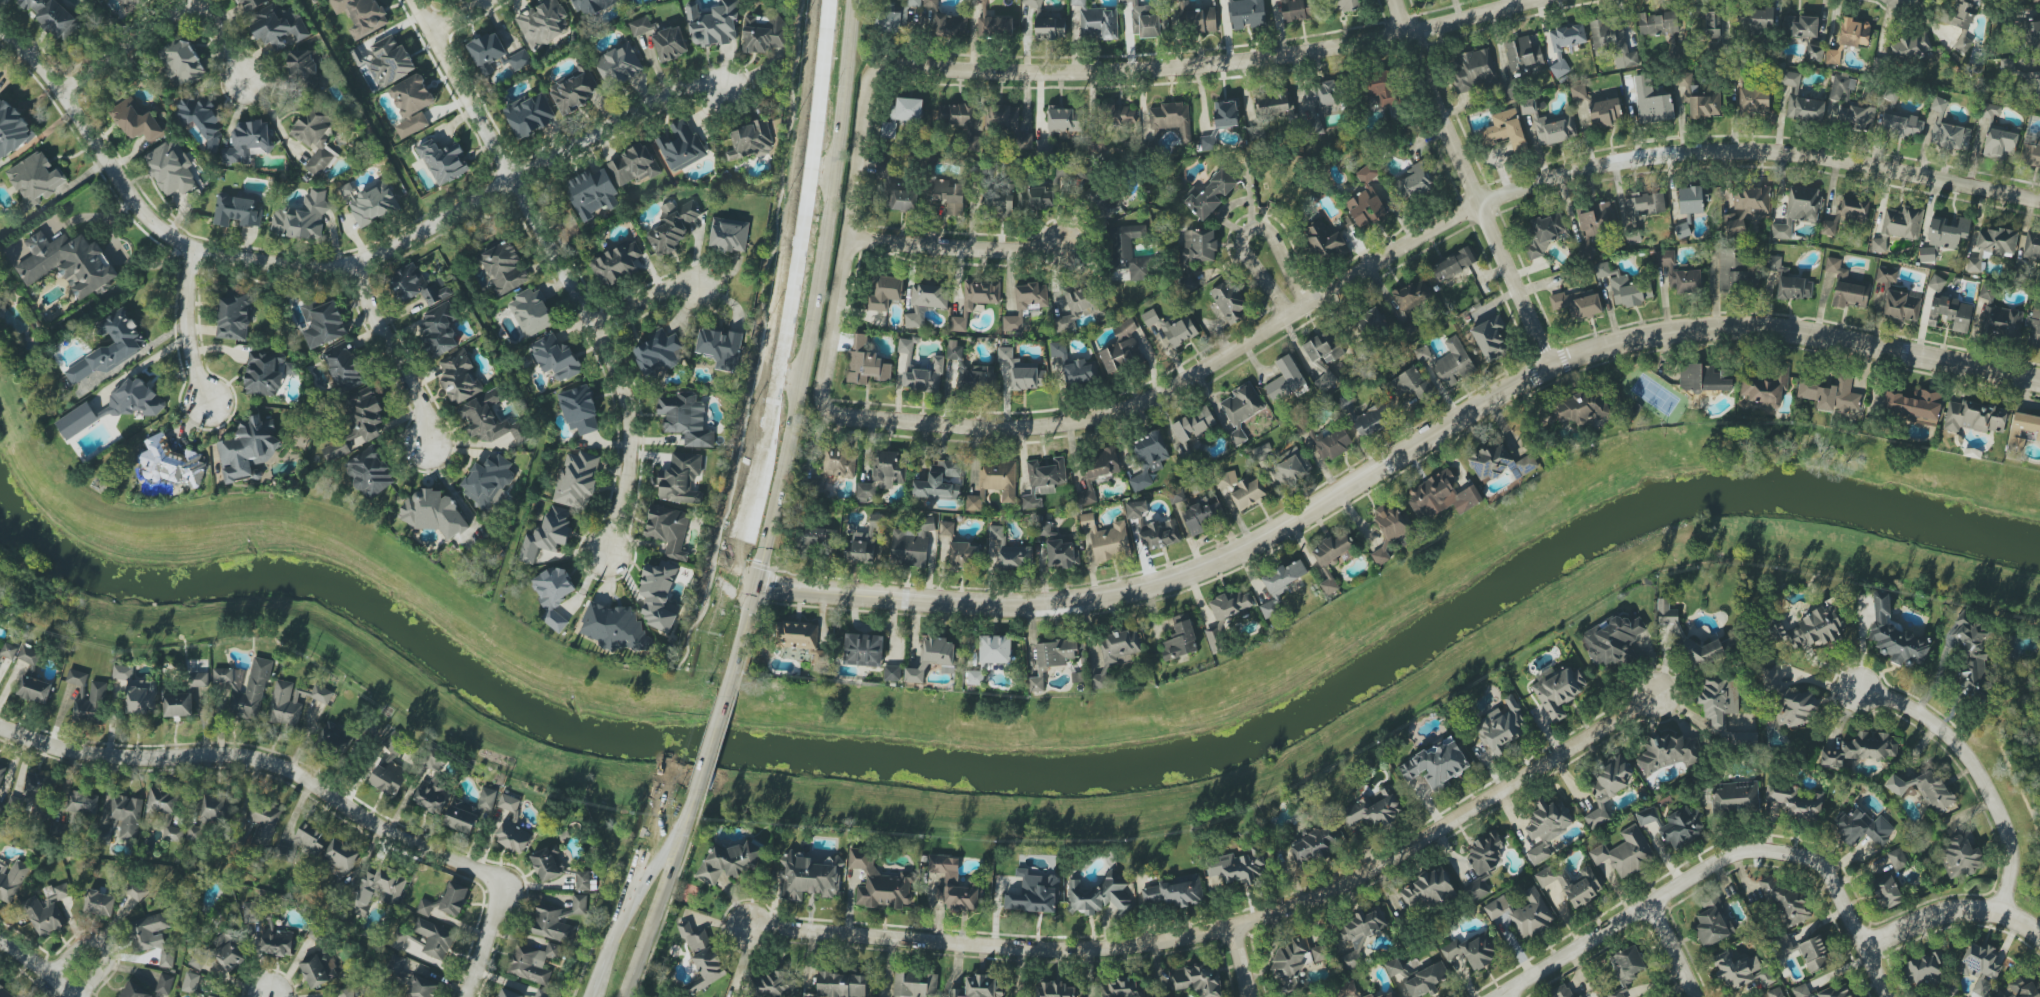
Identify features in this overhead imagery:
building: (2036, 1)
building: (1177, 2)
building: (133, 3)
building: (913, 3)
building: (1032, 3)
building: (250, 4)
building: (1343, 5)
building: (592, 6)
building: (1295, 11)
building: (1246, 13)
road: (455, 14)
building: (362, 15)
building: (52, 16)
building: (1761, 18)
building: (1199, 20)
building: (890, 21)
building: (943, 21)
building: (1144, 21)
building: (541, 23)
building: (713, 23)
building: (1657, 23)
building: (1098, 24)
building: (640, 25)
building: (278, 26)
building: (995, 26)
building: (1712, 26)
building: (1050, 27)
building: (1800, 27)
building: (763, 33)
building: (1854, 33)
building: (2033, 35)
road: (220, 40)
building: (1610, 40)
road: (126, 43)
building: (670, 44)
building: (1565, 44)
building: (1963, 44)
building: (1910, 47)
building: (487, 52)
building: (1814, 53)
building: (1523, 55)
building: (1833, 57)
building: (518, 60)
building: (390, 61)
building: (182, 63)
building: (618, 64)
building: (302, 66)
road: (1124, 69)
building: (1472, 71)
building: (2038, 86)
building: (1382, 87)
building: (1841, 88)
building: (574, 90)
building: (1578, 92)
building: (1699, 98)
building: (1652, 100)
building: (1754, 100)
building: (1801, 101)
building: (411, 104)
building: (1939, 104)
building: (1272, 105)
building: (1318, 105)
building: (1990, 111)
building: (1606, 113)
building: (1125, 114)
building: (1226, 114)
building: (530, 115)
building: (902, 115)
building: (956, 115)
building: (1002, 117)
building: (1856, 117)
building: (202, 119)
building: (1064, 120)
building: (1169, 121)
building: (137, 123)
building: (1549, 124)
building: (1901, 125)
building: (12, 130)
building: (1505, 130)
building: (1950, 135)
building: (316, 139)
building: (247, 141)
building: (751, 141)
building: (1024, 141)
building: (1209, 142)
building: (1999, 144)
building: (681, 146)
building: (444, 161)
building: (634, 165)
building: (171, 168)
building: (883, 169)
building: (1366, 174)
building: (35, 179)
building: (1415, 181)
road: (1471, 183)
building: (592, 193)
building: (948, 195)
building: (1210, 195)
building: (1040, 197)
building: (902, 199)
building: (1000, 199)
building: (1023, 200)
building: (1692, 200)
building: (1104, 202)
building: (373, 206)
building: (1643, 206)
building: (1366, 208)
building: (1746, 208)
building: (1798, 210)
building: (238, 211)
building: (1847, 213)
building: (302, 217)
building: (1597, 218)
building: (1902, 222)
building: (673, 227)
road: (1247, 231)
building: (1948, 233)
building: (729, 234)
building: (1543, 234)
building: (1324, 241)
building: (1878, 245)
building: (1992, 245)
road: (957, 247)
building: (1198, 247)
building: (2032, 247)
building: (1126, 252)
building: (1927, 254)
road: (333, 263)
building: (69, 264)
building: (617, 264)
building: (1453, 264)
road: (559, 267)
building: (503, 268)
building: (1836, 268)
building: (1678, 272)
building: (1737, 272)
building: (1886, 274)
building: (1789, 281)
building: (1188, 282)
road: (1343, 283)
building: (1936, 283)
building: (416, 286)
building: (1621, 286)
building: (1987, 292)
building: (885, 293)
building: (979, 295)
building: (1850, 295)
road: (639, 297)
building: (1229, 300)
building: (1411, 302)
building: (925, 303)
building: (1578, 303)
building: (1026, 305)
building: (1901, 306)
building: (1077, 307)
building: (531, 312)
building: (1950, 313)
building: (234, 317)
building: (1372, 322)
building: (2001, 322)
road: (184, 323)
building: (323, 323)
building: (959, 324)
building: (1170, 328)
building: (439, 329)
building: (2034, 329)
building: (1489, 338)
building: (108, 347)
building: (720, 347)
building: (1324, 347)
road: (384, 348)
building: (1122, 348)
road: (807, 349)
building: (953, 349)
building: (1058, 350)
building: (1422, 353)
building: (659, 354)
building: (556, 357)
building: (1454, 362)
building: (866, 363)
building: (344, 367)
building: (920, 371)
building: (1023, 371)
building: (1080, 372)
building: (267, 373)
building: (1321, 375)
building: (460, 378)
building: (1702, 379)
building: (977, 380)
building: (1285, 380)
building: (1411, 384)
building: (1765, 387)
building: (1830, 394)
building: (134, 400)
building: (1913, 407)
building: (1241, 409)
building: (1580, 409)
building: (580, 410)
park: (8, 415)
building: (365, 415)
building: (1975, 417)
building: (686, 419)
building: (1371, 420)
building: (77, 421)
building: (491, 421)
building: (2026, 422)
building: (1191, 426)
building: (1332, 442)
building: (248, 448)
building: (336, 450)
building: (1148, 459)
road: (1398, 459)
building: (171, 463)
building: (839, 463)
building: (1500, 463)
building: (1289, 467)
building: (890, 468)
building: (1097, 470)
building: (370, 472)
building: (999, 478)
building: (680, 479)
building: (577, 480)
building: (1227, 480)
building: (1043, 481)
building: (488, 482)
building: (940, 482)
building: (866, 490)
building: (1248, 493)
building: (1177, 496)
building: (1441, 496)
building: (975, 502)
building: (1136, 509)
building: (432, 511)
building: (1201, 517)
building: (947, 528)
building: (668, 529)
building: (1046, 530)
building: (547, 534)
building: (1159, 534)
building: (816, 539)
building: (1106, 539)
building: (911, 544)
building: (1334, 548)
building: (863, 549)
building: (1010, 551)
building: (1062, 554)
building: (962, 555)
building: (1329, 582)
traffic signals: (755, 584)
building: (1281, 585)
building: (553, 595)
building: (658, 595)
building: (1230, 605)
building: (614, 628)
building: (1677, 632)
building: (797, 635)
building: (1895, 636)
building: (1180, 639)
building: (1613, 641)
building: (995, 649)
building: (8, 650)
building: (863, 650)
building: (1116, 651)
building: (1056, 652)
building: (1971, 656)
building: (819, 659)
building: (933, 659)
building: (892, 673)
building: (1769, 675)
building: (77, 677)
building: (975, 677)
building: (33, 678)
building: (198, 679)
building: (1036, 684)
building: (1557, 690)
building: (137, 691)
building: (1719, 700)
building: (293, 701)
building: (91, 702)
building: (177, 703)
building: (1797, 708)
building: (1501, 726)
building: (336, 736)
building: (1743, 738)
building: (395, 743)
road: (710, 745)
building: (1861, 749)
building: (1668, 753)
road: (230, 759)
building: (433, 759)
building: (1436, 765)
road: (1974, 771)
building: (1, 773)
road: (2013, 776)
building: (389, 778)
building: (1607, 787)
building: (1923, 787)
building: (40, 793)
building: (431, 794)
building: (1735, 797)
building: (1795, 801)
building: (83, 802)
building: (509, 803)
building: (164, 810)
building: (469, 811)
building: (1371, 812)
building: (210, 815)
building: (1647, 816)
building: (126, 817)
building: (263, 823)
building: (1682, 827)
building: (1546, 828)
building: (1861, 828)
building: (105, 835)
building: (513, 836)
building: (303, 843)
building: (1315, 846)
building: (1485, 852)
building: (1625, 852)
building: (340, 855)
building: (1960, 855)
building: (1898, 858)
building: (728, 862)
building: (548, 863)
building: (1233, 869)
road: (1695, 875)
building: (11, 878)
building: (807, 878)
building: (585, 881)
building: (880, 883)
building: (1572, 883)
building: (954, 884)
building: (377, 888)
building: (1476, 890)
building: (136, 891)
building: (1886, 891)
building: (1172, 892)
building: (1425, 892)
road: (634, 893)
building: (1033, 894)
building: (1099, 895)
road: (661, 897)
building: (454, 898)
building: (100, 903)
building: (1786, 903)
building: (579, 904)
road: (497, 906)
building: (426, 907)
building: (47, 909)
building: (250, 911)
road: (1950, 911)
building: (1523, 913)
building: (551, 924)
building: (1713, 924)
road: (1231, 929)
building: (1360, 934)
building: (153, 937)
building: (435, 938)
building: (276, 939)
road: (102, 943)
building: (1782, 945)
building: (1473, 950)
road: (1671, 950)
building: (1814, 953)
building: (220, 955)
building: (702, 958)
building: (533, 962)
building: (1295, 962)
road: (1242, 963)
building: (1627, 964)
road: (37, 966)
building: (1393, 967)
building: (1980, 967)
building: (319, 969)
building: (1923, 969)
building: (1735, 970)
road: (1874, 972)
building: (1763, 977)
building: (1197, 980)
building: (1426, 980)
building: (164, 984)
building: (192, 984)
building: (774, 985)
building: (841, 985)
building: (915, 985)
building: (420, 987)
building: (978, 987)
building: (1123, 987)
building: (1347, 989)
building: (135, 991)
building: (1561, 991)
building: (1822, 991)
building: (6, 992)
building: (347, 992)
building: (1775, 992)
building: (509, 993)
building: (542, 993)
road: (272, 994)
building: (1615, 994)
building: (1388, 995)
road: (1510, 995)
building: (1370, 996)
building: (1580, 996)

